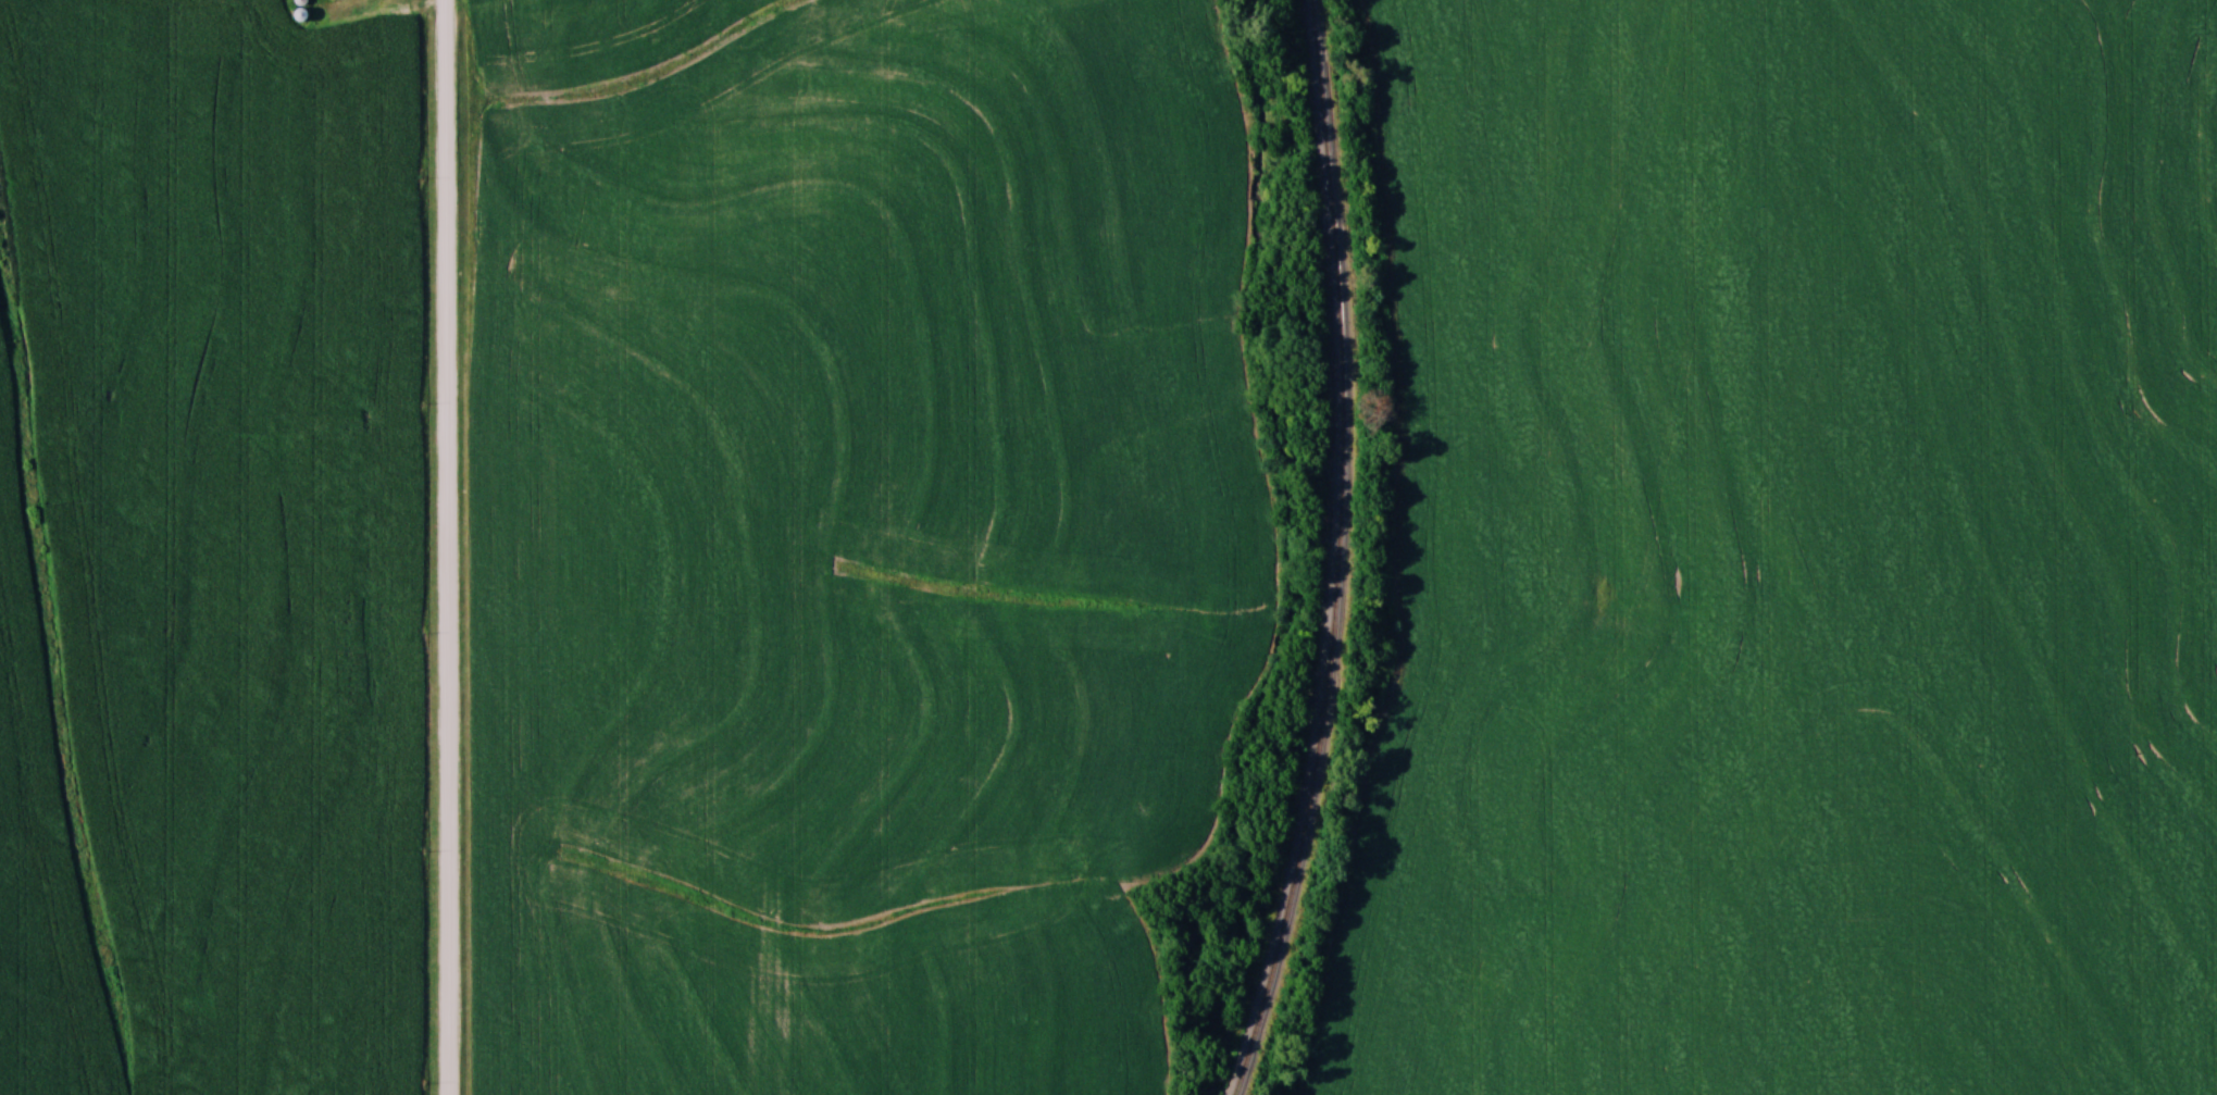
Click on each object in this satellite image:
road: (447, 547)
railway: (1343, 551)

